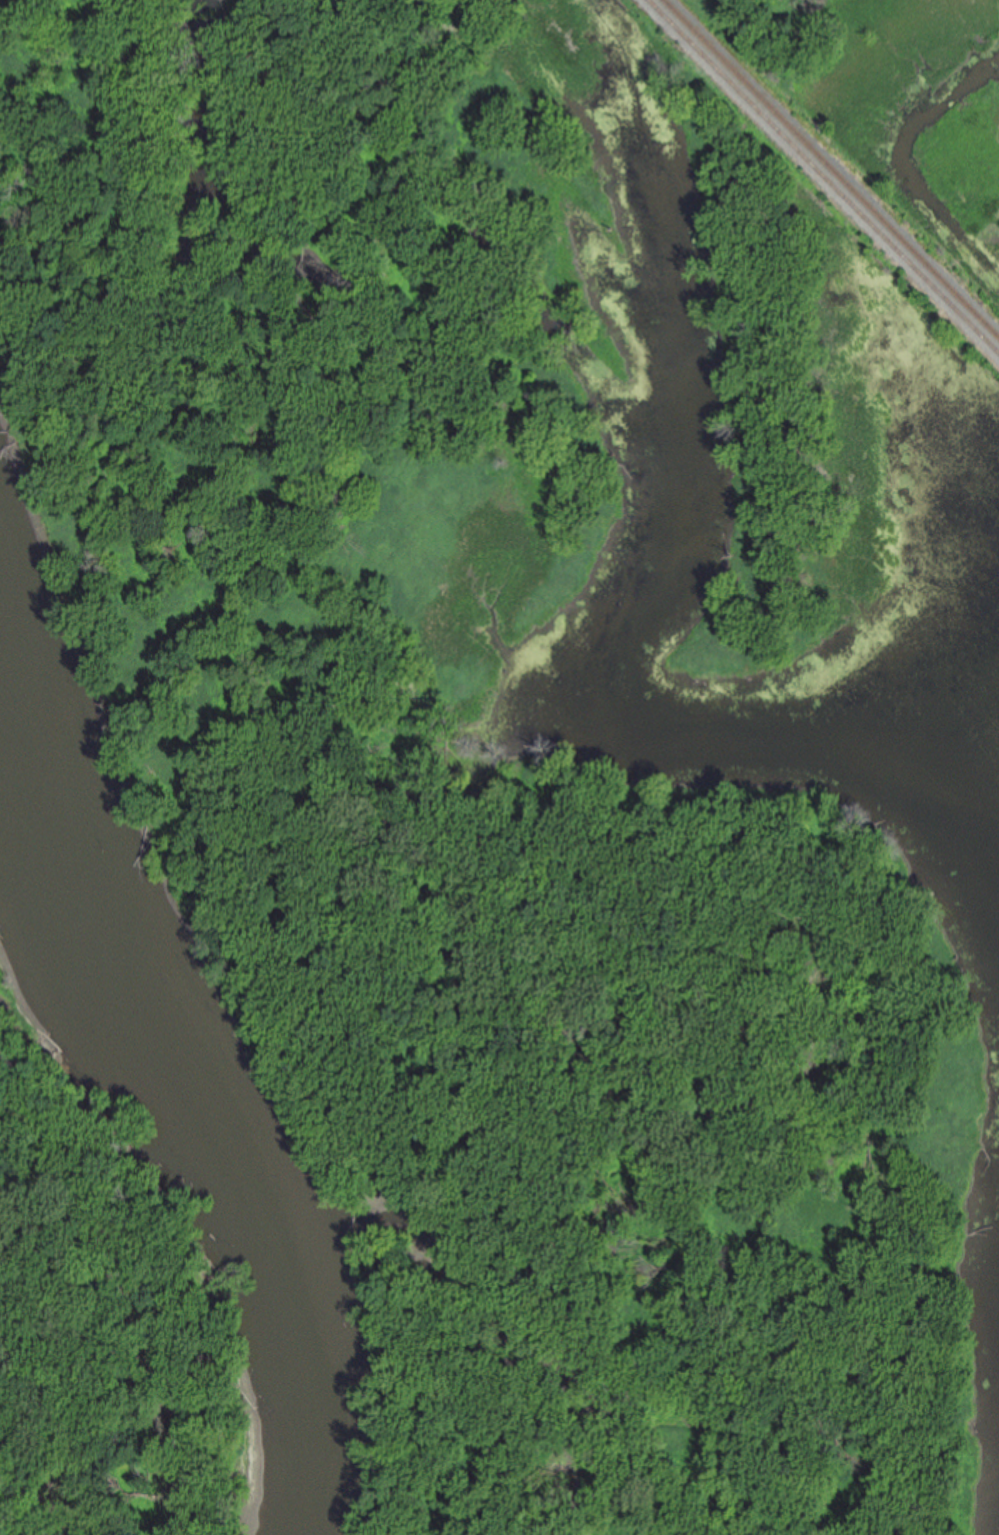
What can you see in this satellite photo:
railway: (833, 166)
railway: (825, 174)
river: (60, 910)
river: (74, 1047)
river: (268, 1261)

